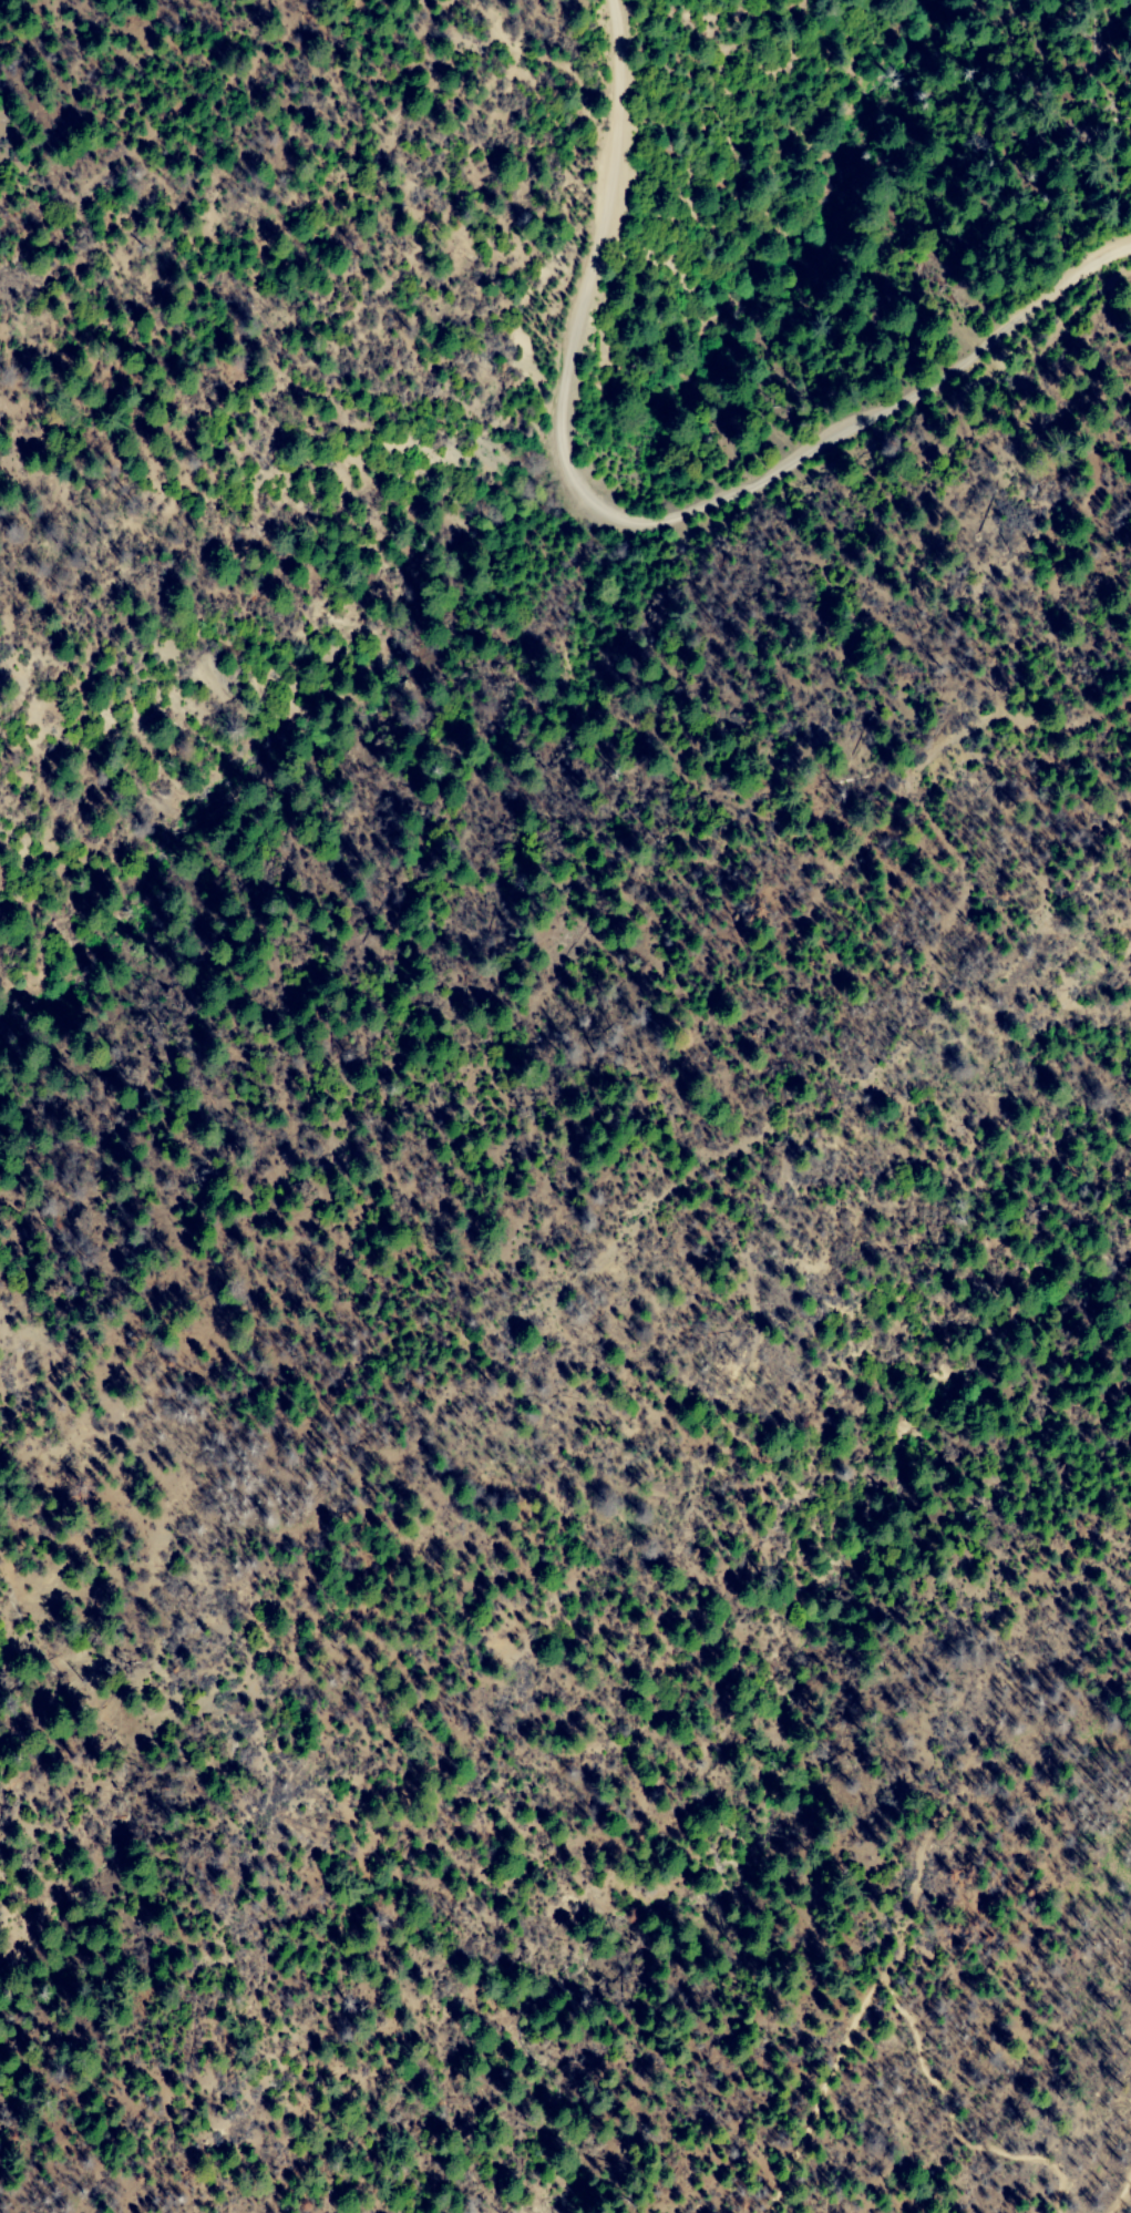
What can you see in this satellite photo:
road: (641, 526)

